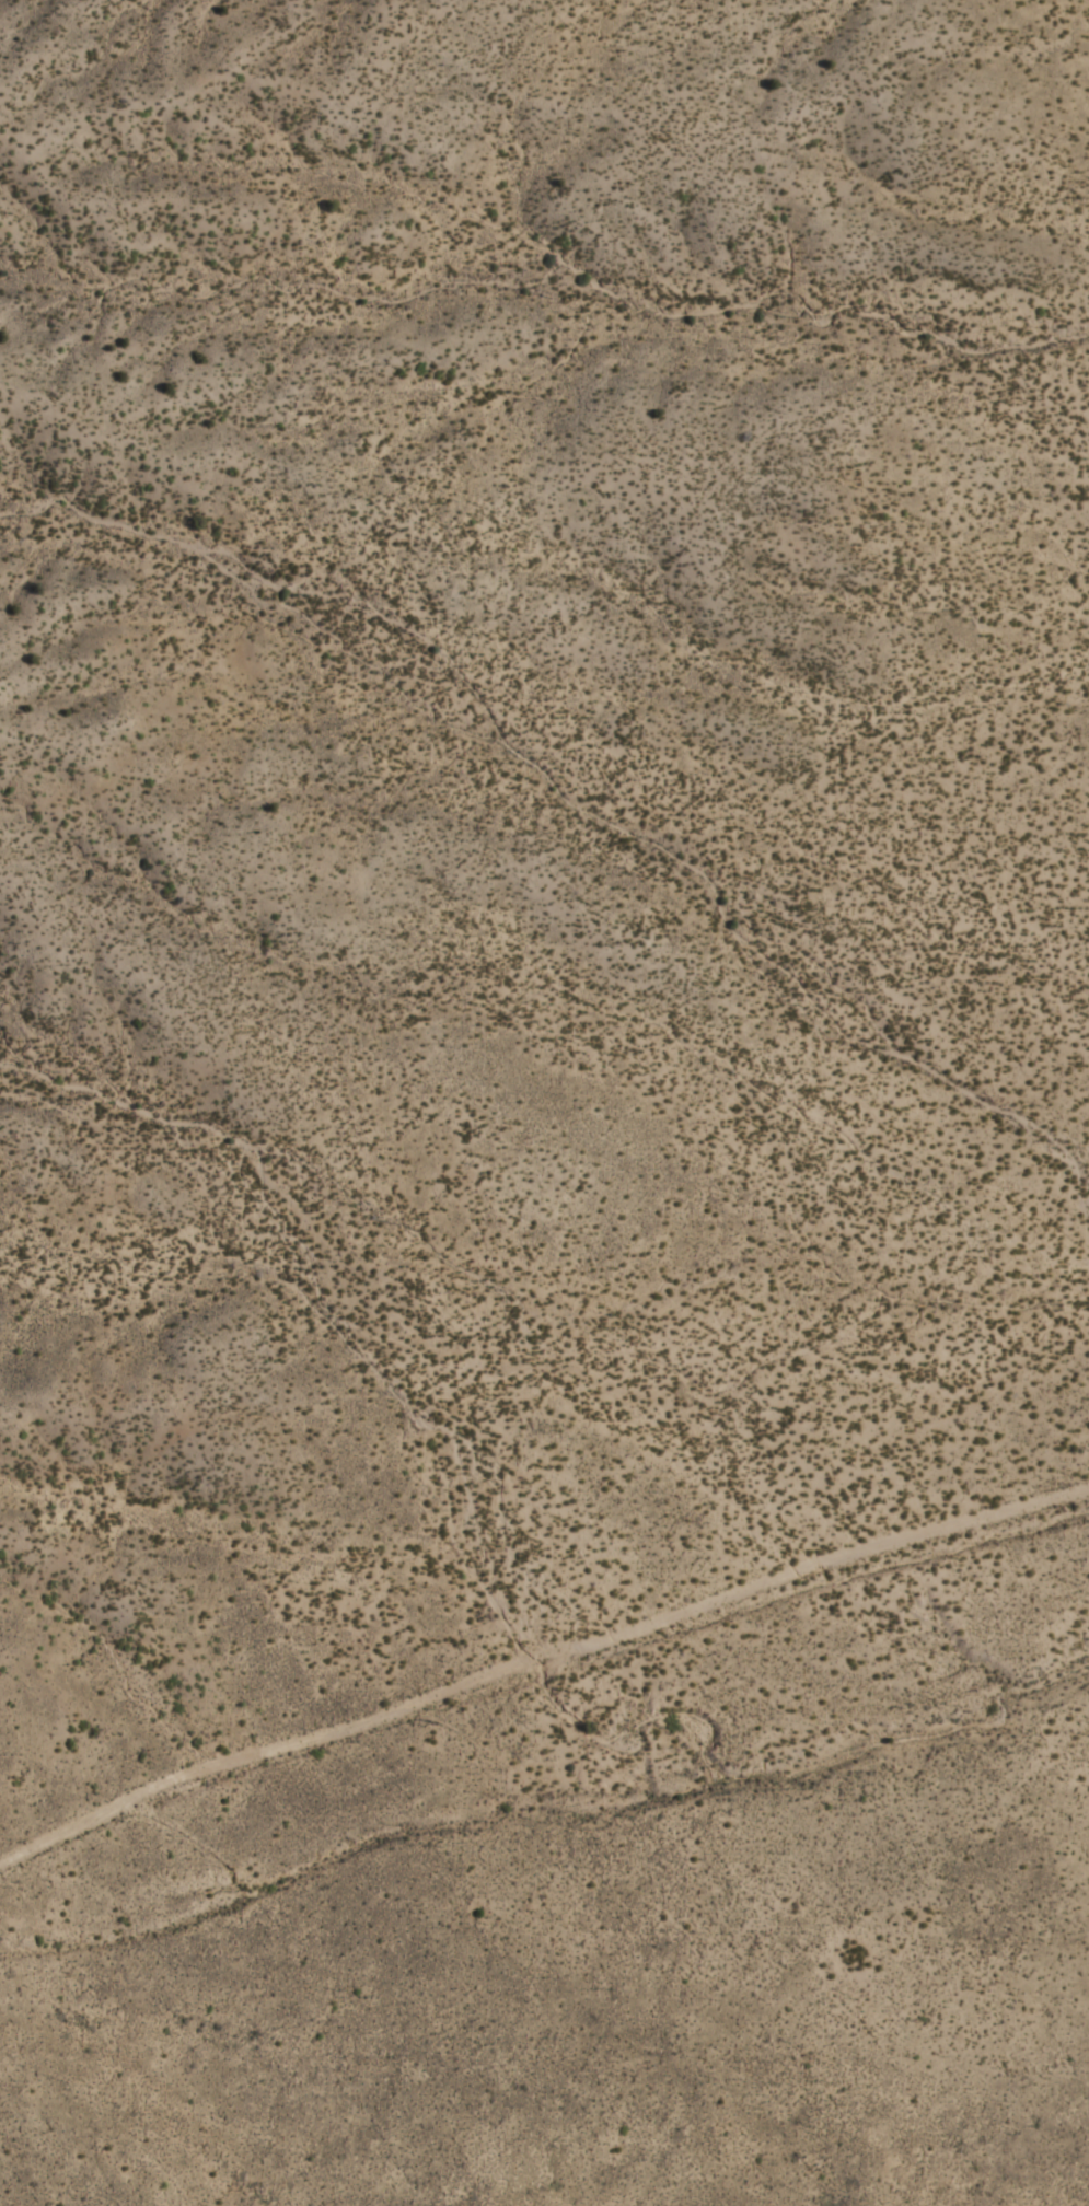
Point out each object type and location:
road: (538, 1659)

